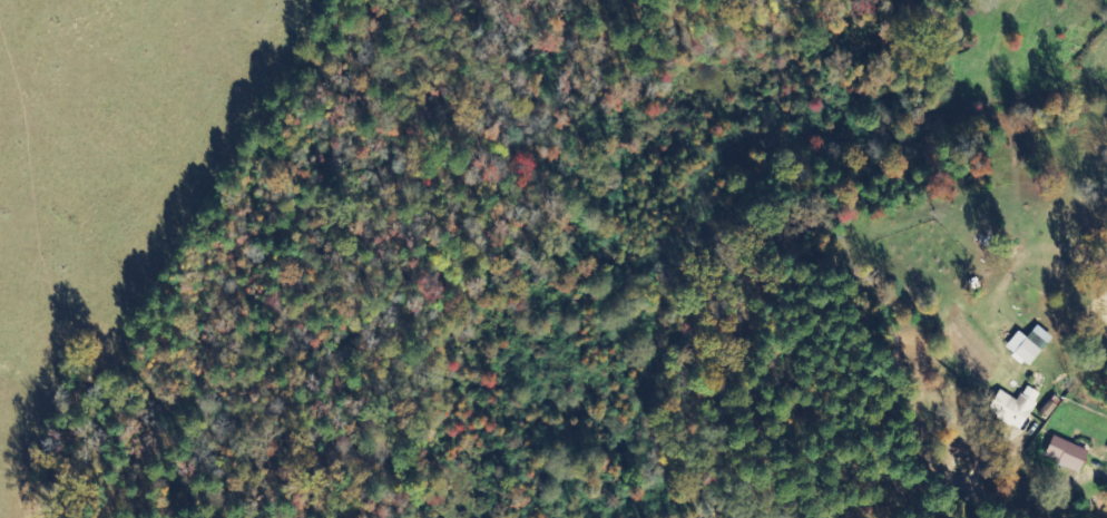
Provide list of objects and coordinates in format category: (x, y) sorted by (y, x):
building: (1028, 346)
building: (1015, 408)
building: (1066, 455)
road: (933, 457)

